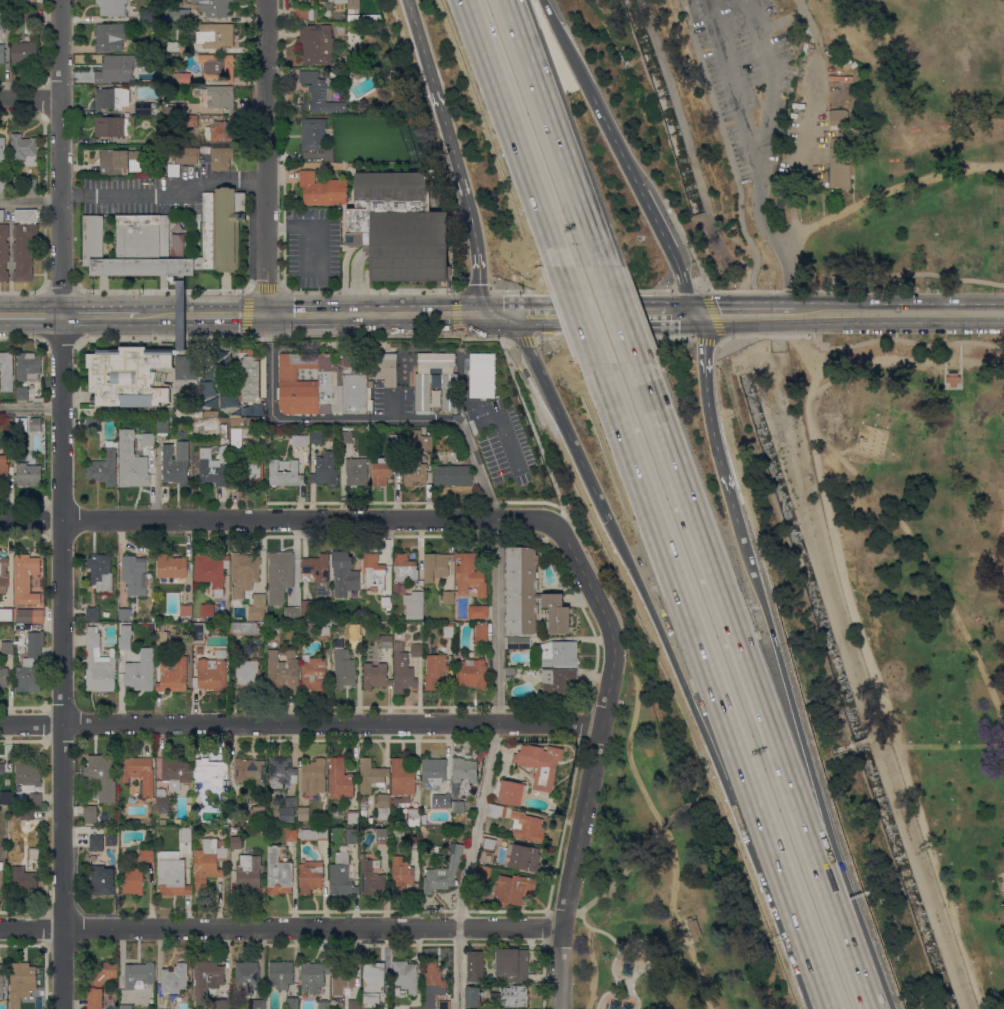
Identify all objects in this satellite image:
building: (340, 1)
building: (355, 3)
building: (112, 7)
building: (216, 7)
building: (177, 13)
building: (304, 13)
building: (147, 14)
building: (340, 17)
building: (4, 19)
road: (781, 21)
road: (808, 21)
building: (216, 34)
building: (111, 36)
road: (417, 36)
building: (316, 44)
road: (566, 45)
building: (178, 46)
building: (2, 53)
building: (24, 53)
building: (113, 67)
building: (219, 67)
road: (774, 74)
parking lot: (746, 75)
building: (180, 77)
road: (728, 77)
building: (321, 93)
building: (221, 97)
building: (112, 98)
road: (30, 99)
building: (146, 108)
building: (180, 108)
building: (169, 109)
parking lot: (814, 116)
building: (838, 118)
building: (192, 120)
building: (114, 126)
building: (220, 131)
road: (516, 131)
road: (554, 132)
park: (845, 132)
building: (313, 133)
building: (158, 139)
road: (615, 140)
road: (725, 144)
road: (800, 146)
building: (2, 147)
building: (24, 148)
building: (189, 154)
road: (452, 154)
road: (60, 157)
building: (222, 157)
road: (265, 157)
building: (842, 160)
building: (120, 161)
building: (336, 165)
building: (31, 184)
building: (4, 185)
building: (323, 189)
building: (392, 190)
road: (894, 190)
road: (164, 193)
road: (30, 200)
road: (758, 204)
building: (2, 215)
road: (657, 223)
building: (142, 239)
building: (401, 242)
building: (24, 244)
building: (177, 245)
building: (4, 251)
road: (477, 274)
road: (850, 275)
road: (787, 279)
road: (356, 280)
traffic signals: (478, 283)
road: (684, 286)
road: (687, 288)
road: (162, 289)
road: (265, 289)
road: (59, 290)
road: (580, 290)
road: (21, 291)
road: (368, 292)
road: (455, 297)
road: (608, 312)
building: (179, 313)
road: (248, 313)
road: (415, 313)
traffic signals: (447, 313)
traffic signals: (502, 313)
road: (581, 313)
road: (675, 313)
traffic signals: (677, 313)
traffic signals: (720, 313)
road: (741, 313)
road: (895, 313)
road: (156, 314)
road: (220, 314)
traffic signals: (268, 314)
road: (620, 314)
road: (30, 315)
road: (100, 315)
road: (715, 325)
road: (378, 336)
road: (615, 337)
road: (522, 339)
road: (860, 342)
traffic signals: (704, 344)
road: (960, 354)
building: (436, 360)
building: (28, 366)
building: (386, 368)
building: (230, 369)
building: (6, 370)
building: (139, 374)
building: (481, 375)
building: (252, 378)
building: (953, 378)
building: (324, 383)
building: (234, 384)
building: (422, 391)
building: (449, 391)
building: (22, 393)
building: (434, 397)
building: (38, 399)
building: (228, 399)
building: (183, 406)
road: (30, 407)
road: (708, 408)
building: (251, 409)
building: (207, 412)
road: (560, 416)
road: (309, 418)
building: (237, 421)
building: (254, 421)
road: (530, 422)
building: (7, 423)
building: (21, 424)
building: (35, 424)
building: (93, 424)
building: (162, 426)
building: (223, 430)
building: (240, 436)
building: (148, 437)
building: (316, 437)
building: (346, 437)
building: (300, 440)
building: (395, 440)
building: (419, 440)
building: (175, 463)
road: (476, 464)
building: (104, 466)
building: (214, 466)
building: (132, 468)
building: (4, 469)
building: (325, 469)
building: (253, 470)
building: (382, 471)
building: (355, 472)
building: (285, 473)
building: (415, 473)
building: (28, 474)
building: (453, 475)
road: (527, 501)
road: (277, 518)
road: (925, 560)
building: (283, 564)
building: (436, 565)
building: (172, 566)
building: (247, 567)
building: (3, 568)
building: (211, 568)
building: (405, 568)
building: (318, 571)
building: (101, 572)
building: (374, 572)
building: (344, 573)
building: (135, 574)
building: (470, 574)
road: (599, 574)
building: (26, 579)
building: (399, 588)
building: (219, 591)
building: (530, 595)
building: (448, 597)
park: (914, 599)
building: (294, 601)
building: (386, 602)
building: (259, 604)
building: (414, 605)
building: (308, 607)
building: (186, 610)
building: (205, 611)
building: (478, 611)
building: (6, 613)
building: (108, 613)
building: (93, 614)
building: (124, 614)
building: (295, 615)
building: (30, 616)
building: (160, 626)
building: (245, 628)
building: (308, 629)
building: (325, 632)
building: (448, 632)
road: (697, 632)
building: (199, 633)
building: (481, 633)
building: (162, 637)
building: (356, 637)
road: (737, 639)
building: (387, 641)
building: (125, 642)
building: (519, 643)
building: (7, 648)
building: (417, 649)
building: (558, 653)
road: (62, 661)
building: (31, 664)
building: (99, 664)
building: (282, 668)
building: (344, 669)
building: (402, 670)
building: (435, 671)
building: (213, 672)
building: (510, 672)
building: (313, 673)
building: (472, 673)
building: (246, 674)
building: (140, 675)
building: (174, 675)
building: (376, 675)
road: (874, 675)
building: (4, 677)
building: (557, 684)
road: (794, 707)
road: (694, 715)
road: (300, 723)
road: (883, 736)
road: (856, 742)
road: (950, 746)
road: (594, 759)
building: (540, 761)
road: (490, 764)
building: (2, 767)
building: (101, 768)
building: (465, 769)
building: (176, 771)
building: (211, 771)
building: (251, 771)
building: (282, 771)
building: (434, 772)
building: (139, 773)
building: (28, 774)
building: (372, 775)
building: (313, 777)
building: (403, 778)
building: (340, 779)
building: (543, 787)
building: (511, 792)
building: (7, 797)
building: (36, 798)
building: (225, 800)
building: (445, 800)
building: (163, 803)
building: (384, 806)
building: (458, 806)
building: (288, 810)
building: (496, 810)
building: (364, 812)
building: (27, 813)
building: (304, 813)
building: (91, 814)
building: (258, 814)
building: (354, 816)
building: (333, 817)
building: (413, 818)
building: (364, 820)
building: (162, 822)
road: (663, 826)
building: (529, 828)
building: (234, 830)
building: (186, 834)
building: (291, 834)
building: (314, 834)
building: (353, 835)
building: (382, 836)
building: (111, 840)
building: (96, 842)
building: (236, 842)
building: (416, 843)
building: (489, 843)
building: (123, 850)
building: (145, 856)
building: (525, 858)
road: (633, 858)
building: (209, 860)
building: (98, 861)
building: (250, 872)
building: (279, 872)
building: (443, 873)
building: (483, 874)
building: (343, 875)
building: (402, 875)
building: (311, 876)
building: (1, 877)
building: (24, 878)
building: (173, 878)
building: (372, 878)
building: (102, 880)
building: (133, 881)
park: (654, 886)
building: (514, 889)
road: (572, 911)
road: (281, 927)
building: (694, 928)
road: (616, 943)
road: (670, 949)
road: (813, 955)
road: (854, 962)
building: (476, 965)
building: (512, 965)
road: (593, 967)
building: (281, 974)
building: (139, 975)
building: (247, 976)
building: (313, 976)
building: (406, 976)
building: (374, 977)
building: (175, 978)
building: (23, 979)
building: (207, 979)
building: (341, 979)
building: (1, 981)
building: (100, 982)
building: (433, 985)
building: (473, 996)
building: (512, 996)
building: (292, 1003)
building: (223, 1004)
building: (259, 1004)
building: (324, 1004)
building: (354, 1004)
building: (445, 1005)
building: (126, 1006)
building: (158, 1008)
building: (385, 1008)
building: (416, 1008)

